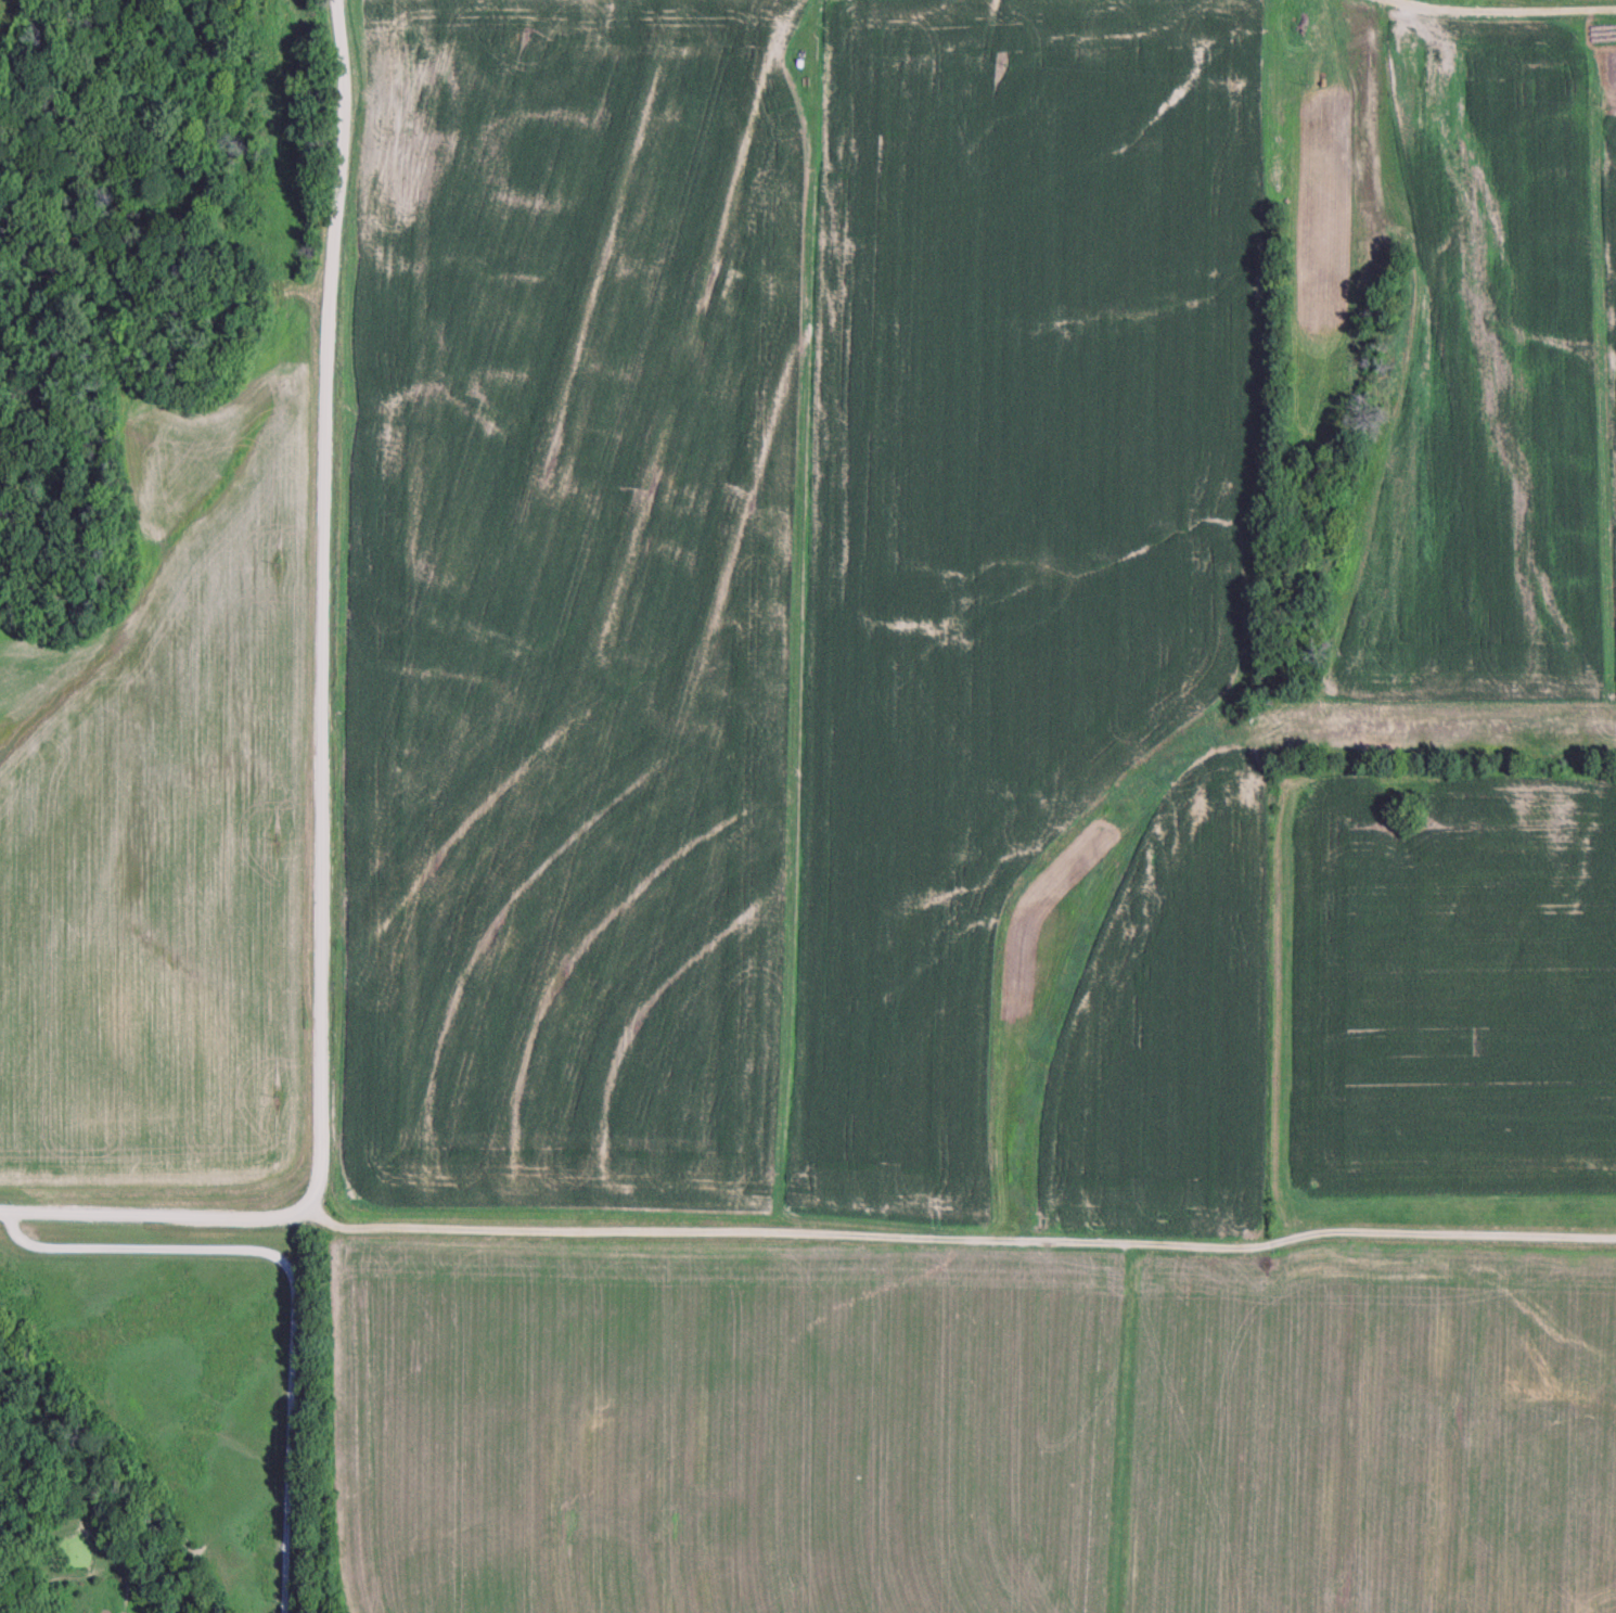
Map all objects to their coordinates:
road: (1496, 11)
road: (323, 609)
road: (807, 1237)
road: (286, 1288)

